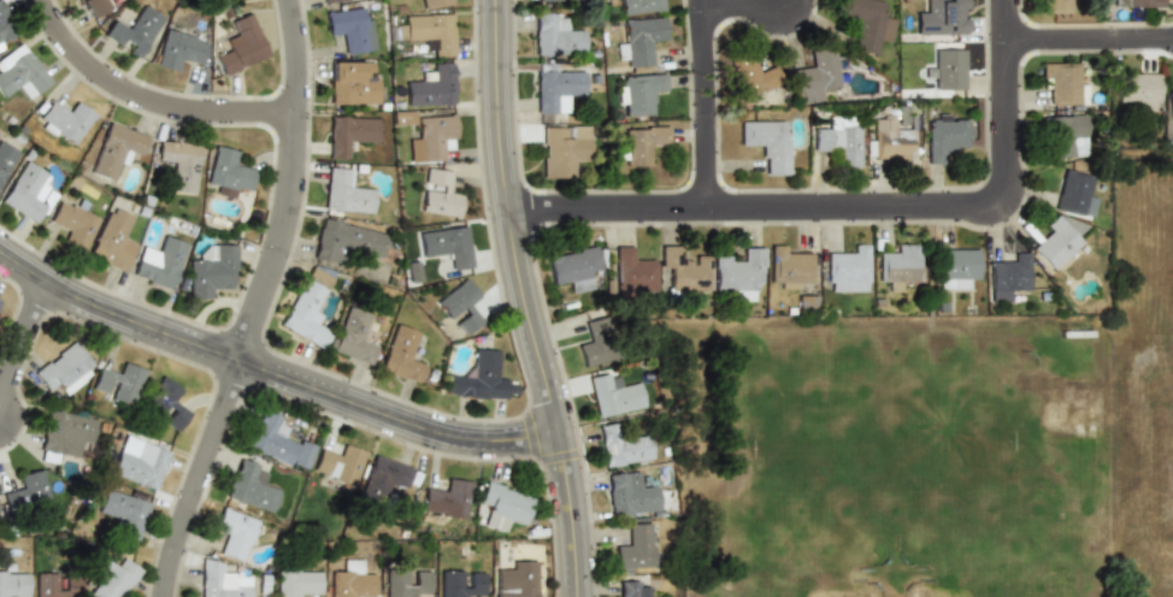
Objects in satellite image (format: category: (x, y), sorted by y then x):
building: (213, 0)
building: (538, 0)
building: (328, 1)
building: (434, 2)
building: (1139, 2)
building: (1054, 5)
building: (92, 6)
building: (639, 6)
road: (733, 8)
building: (937, 16)
building: (866, 23)
building: (5, 25)
building: (350, 29)
building: (132, 30)
building: (426, 31)
building: (555, 36)
building: (641, 41)
building: (238, 46)
building: (178, 49)
road: (1084, 49)
building: (947, 70)
building: (19, 72)
building: (814, 75)
building: (753, 76)
building: (1062, 82)
building: (352, 83)
building: (431, 85)
building: (556, 88)
building: (1139, 89)
building: (637, 93)
road: (142, 102)
road: (700, 107)
road: (996, 107)
building: (1169, 107)
building: (402, 118)
building: (63, 122)
building: (349, 134)
building: (944, 134)
building: (1066, 136)
building: (430, 137)
building: (836, 141)
building: (890, 141)
building: (766, 143)
building: (637, 144)
building: (562, 148)
building: (116, 149)
building: (6, 159)
building: (178, 164)
building: (228, 172)
building: (26, 191)
building: (346, 193)
building: (438, 194)
building: (1074, 194)
road: (749, 215)
building: (73, 223)
building: (113, 240)
building: (344, 241)
building: (1055, 243)
building: (446, 246)
building: (160, 261)
building: (900, 264)
building: (572, 267)
building: (789, 267)
building: (954, 267)
building: (211, 270)
building: (683, 270)
building: (739, 271)
building: (847, 271)
building: (631, 272)
building: (1007, 278)
road: (518, 300)
road: (259, 303)
building: (804, 303)
building: (307, 307)
building: (459, 307)
building: (354, 337)
building: (595, 342)
building: (402, 355)
road: (25, 357)
building: (63, 370)
road: (271, 378)
building: (477, 379)
building: (118, 383)
building: (612, 395)
building: (165, 403)
building: (63, 433)
building: (276, 441)
building: (619, 444)
building: (138, 463)
building: (337, 465)
building: (384, 475)
building: (248, 485)
building: (29, 489)
building: (630, 492)
building: (446, 498)
building: (502, 506)
building: (122, 512)
building: (232, 533)
building: (635, 548)
building: (108, 577)
building: (517, 579)
building: (349, 580)
building: (217, 581)
building: (12, 583)
building: (294, 583)
building: (405, 583)
building: (460, 583)
building: (55, 585)
building: (633, 589)

